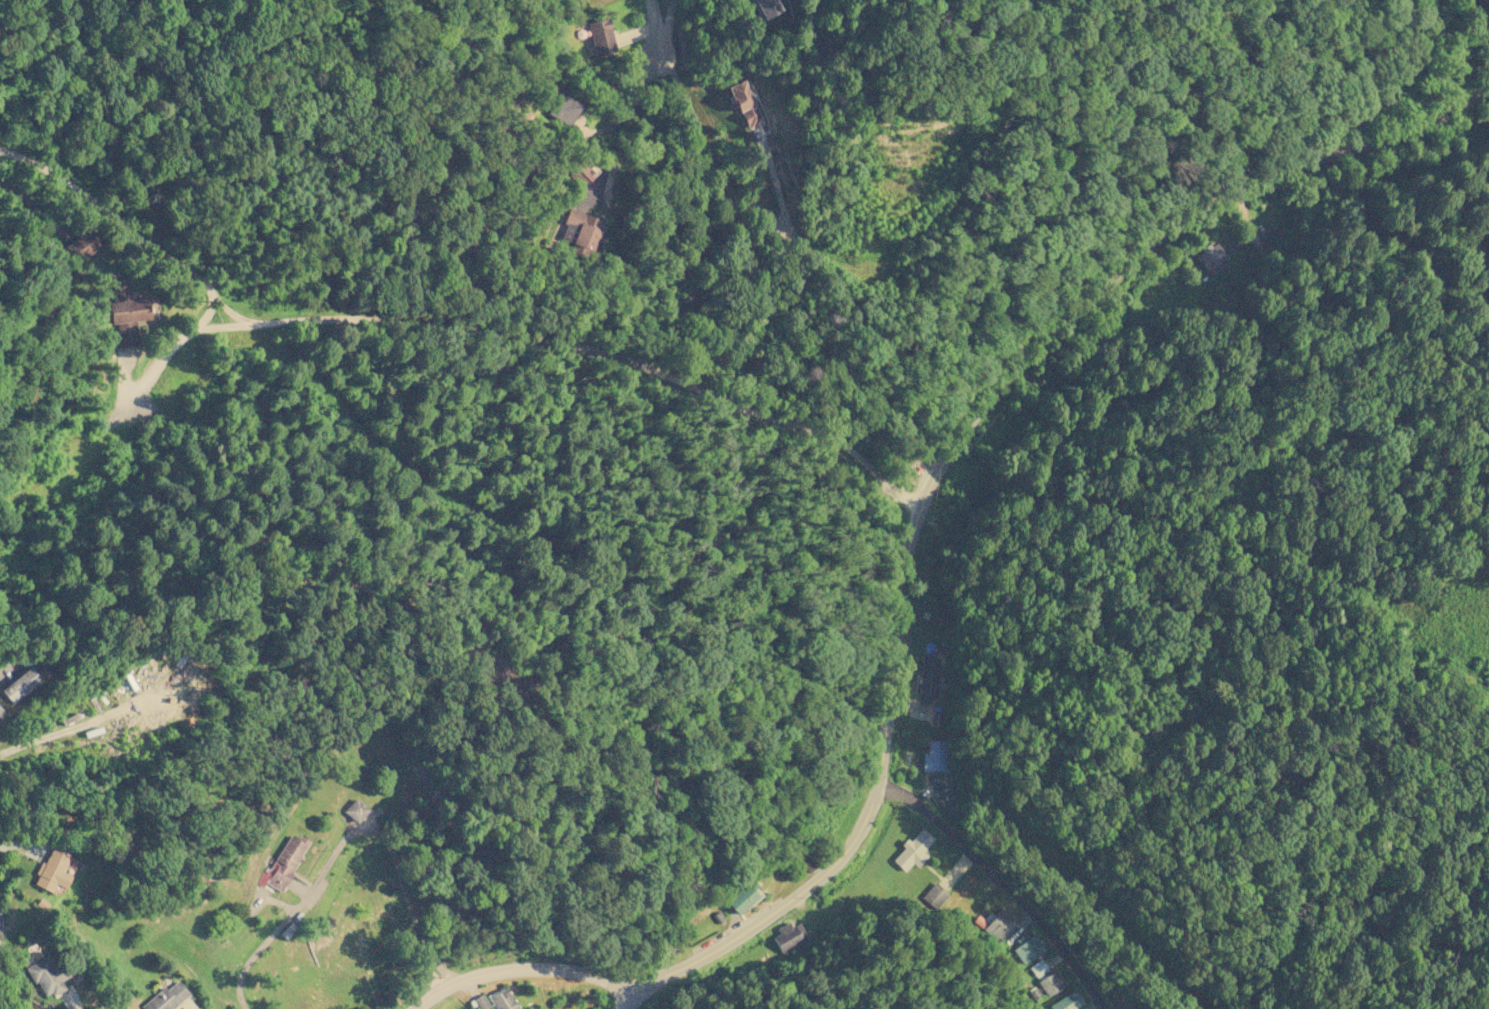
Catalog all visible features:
building: (764, 8)
road: (655, 31)
building: (600, 36)
road: (1377, 80)
building: (743, 103)
building: (563, 106)
building: (580, 174)
road: (118, 230)
building: (581, 233)
building: (83, 245)
building: (1209, 256)
building: (126, 312)
road: (578, 353)
road: (904, 559)
building: (928, 677)
building: (20, 685)
building: (0, 712)
building: (934, 756)
building: (355, 810)
road: (346, 843)
building: (913, 850)
building: (283, 864)
building: (52, 870)
road: (1000, 886)
building: (934, 896)
building: (741, 899)
building: (997, 924)
building: (0, 931)
building: (789, 938)
building: (1027, 948)
building: (1038, 968)
building: (46, 976)
building: (1050, 983)
building: (166, 997)
road: (625, 998)
building: (502, 999)
building: (1067, 1001)
building: (480, 1002)

